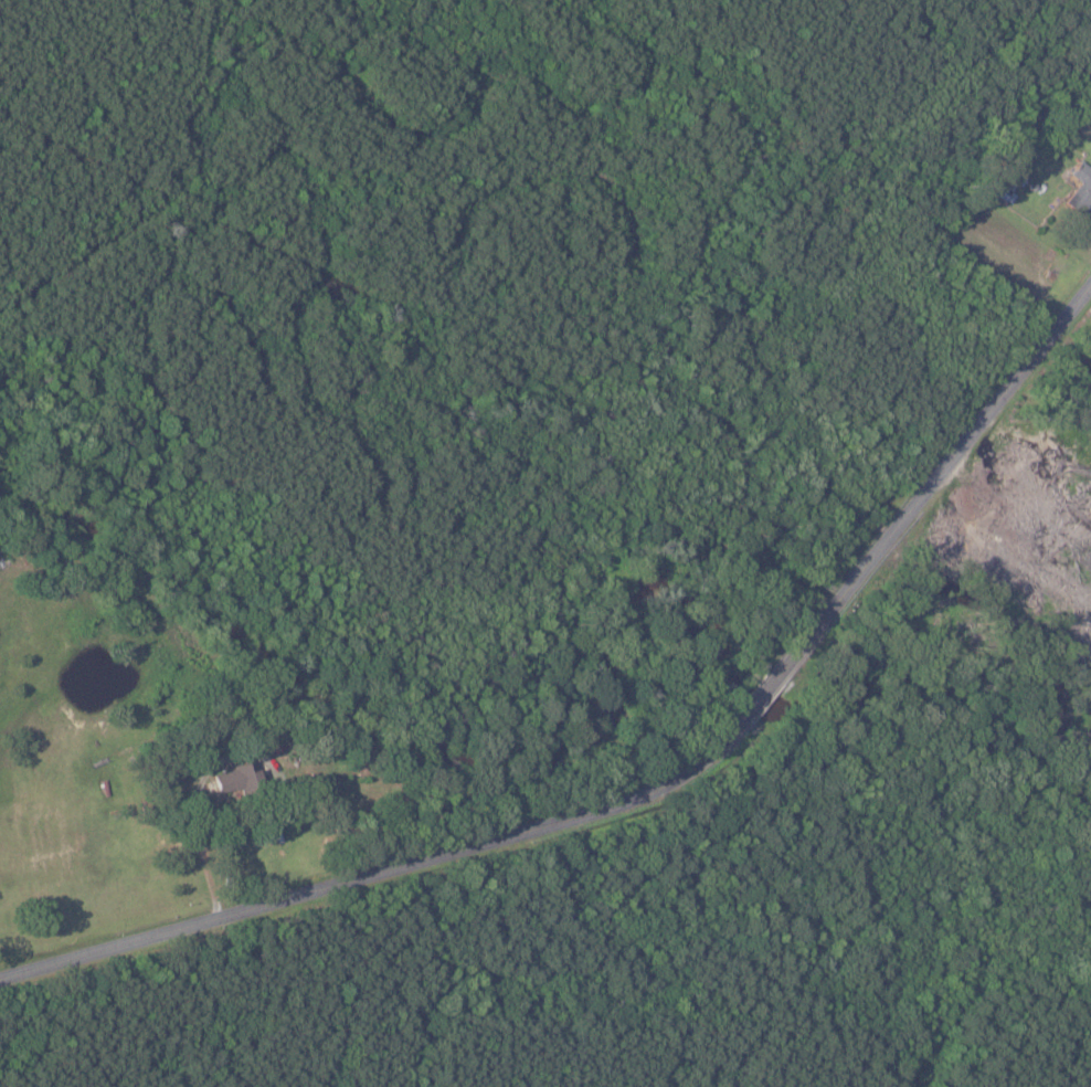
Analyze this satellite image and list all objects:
building: (1081, 188)
road: (942, 475)
road: (770, 689)
building: (235, 778)
road: (384, 872)

